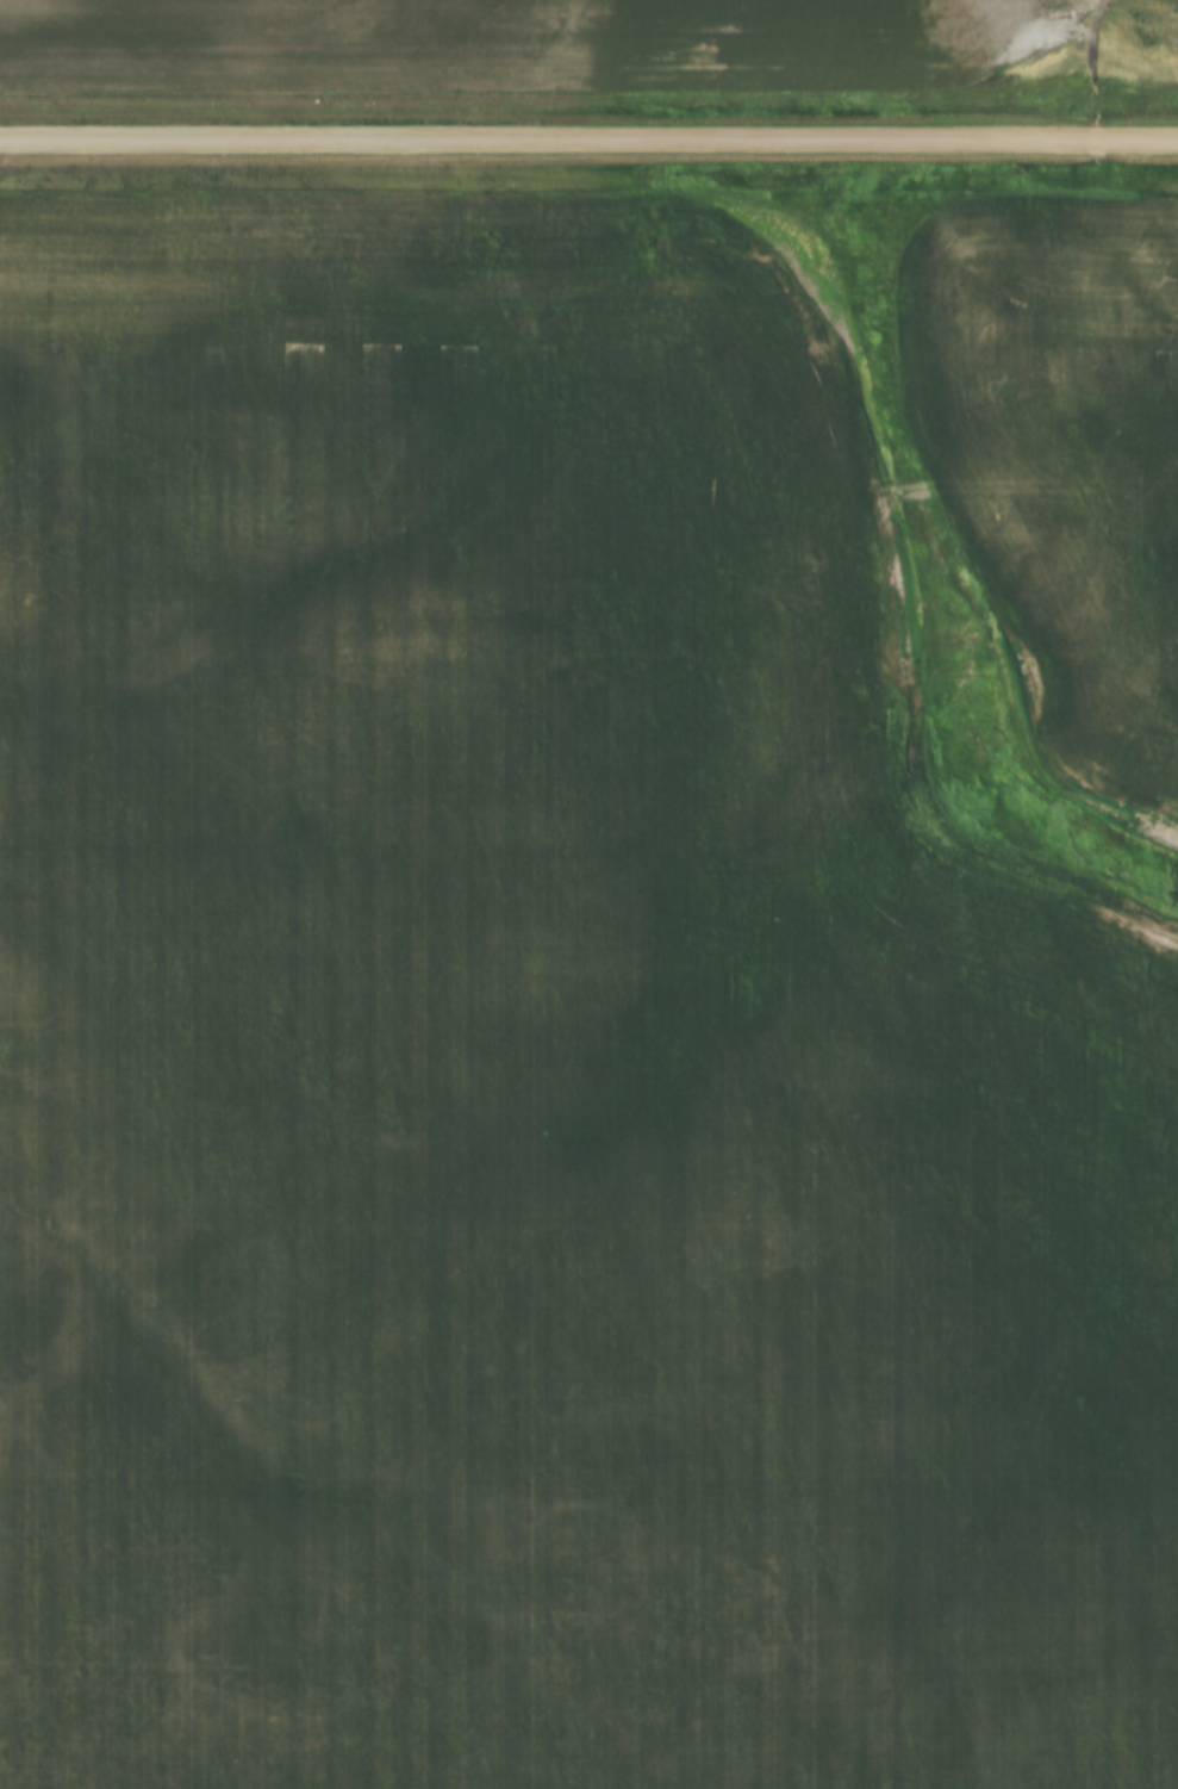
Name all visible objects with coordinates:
road: (588, 139)

